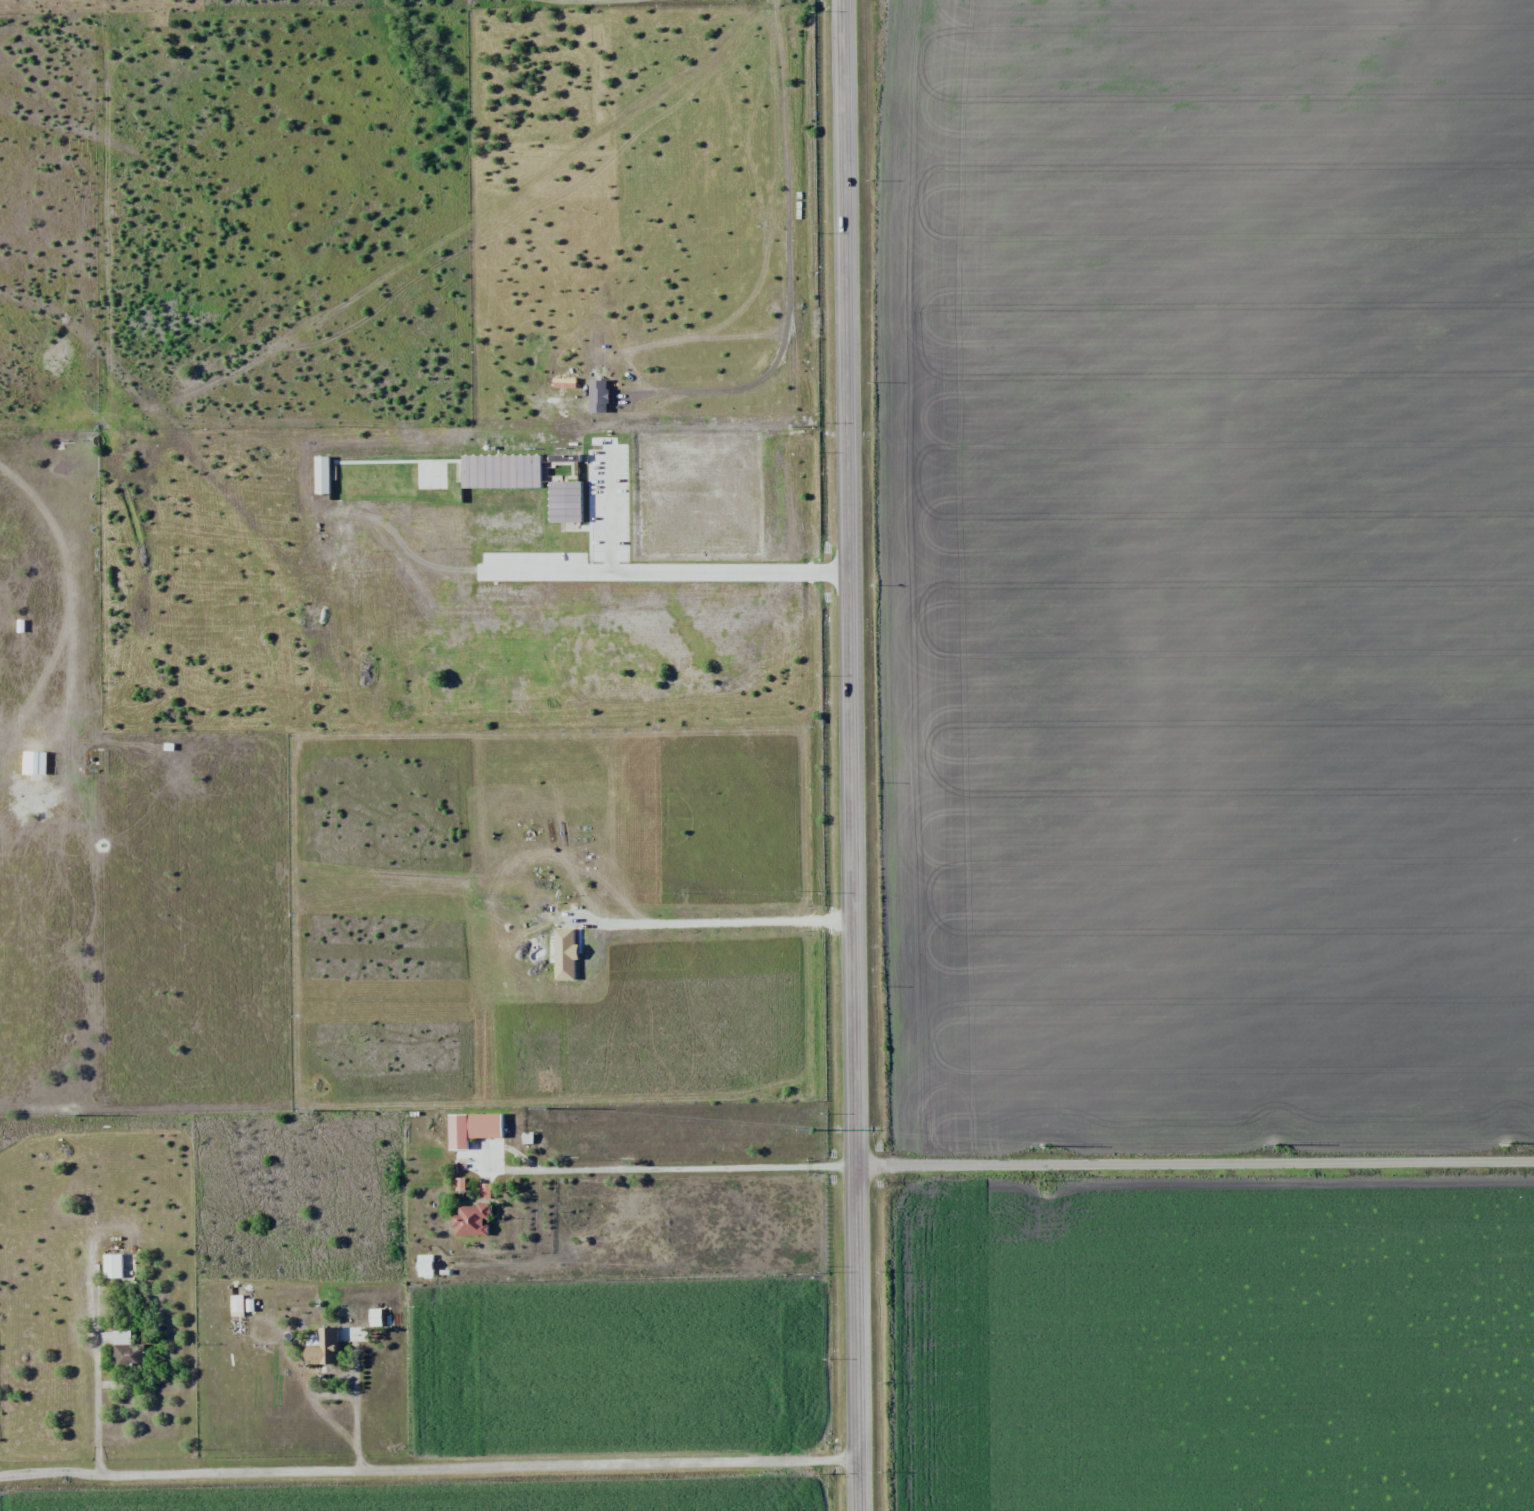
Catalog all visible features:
road: (852, 755)
power tower: (550, 1105)
power tower: (311, 1112)
power tower: (75, 1115)
building: (482, 1125)
power tower: (809, 1125)
power tower: (1506, 1146)
power tower: (1275, 1147)
power tower: (1036, 1149)
road: (1199, 1169)
building: (471, 1219)
building: (112, 1266)
building: (322, 1347)
building: (126, 1352)
road: (97, 1407)
road: (356, 1421)
road: (433, 1469)

